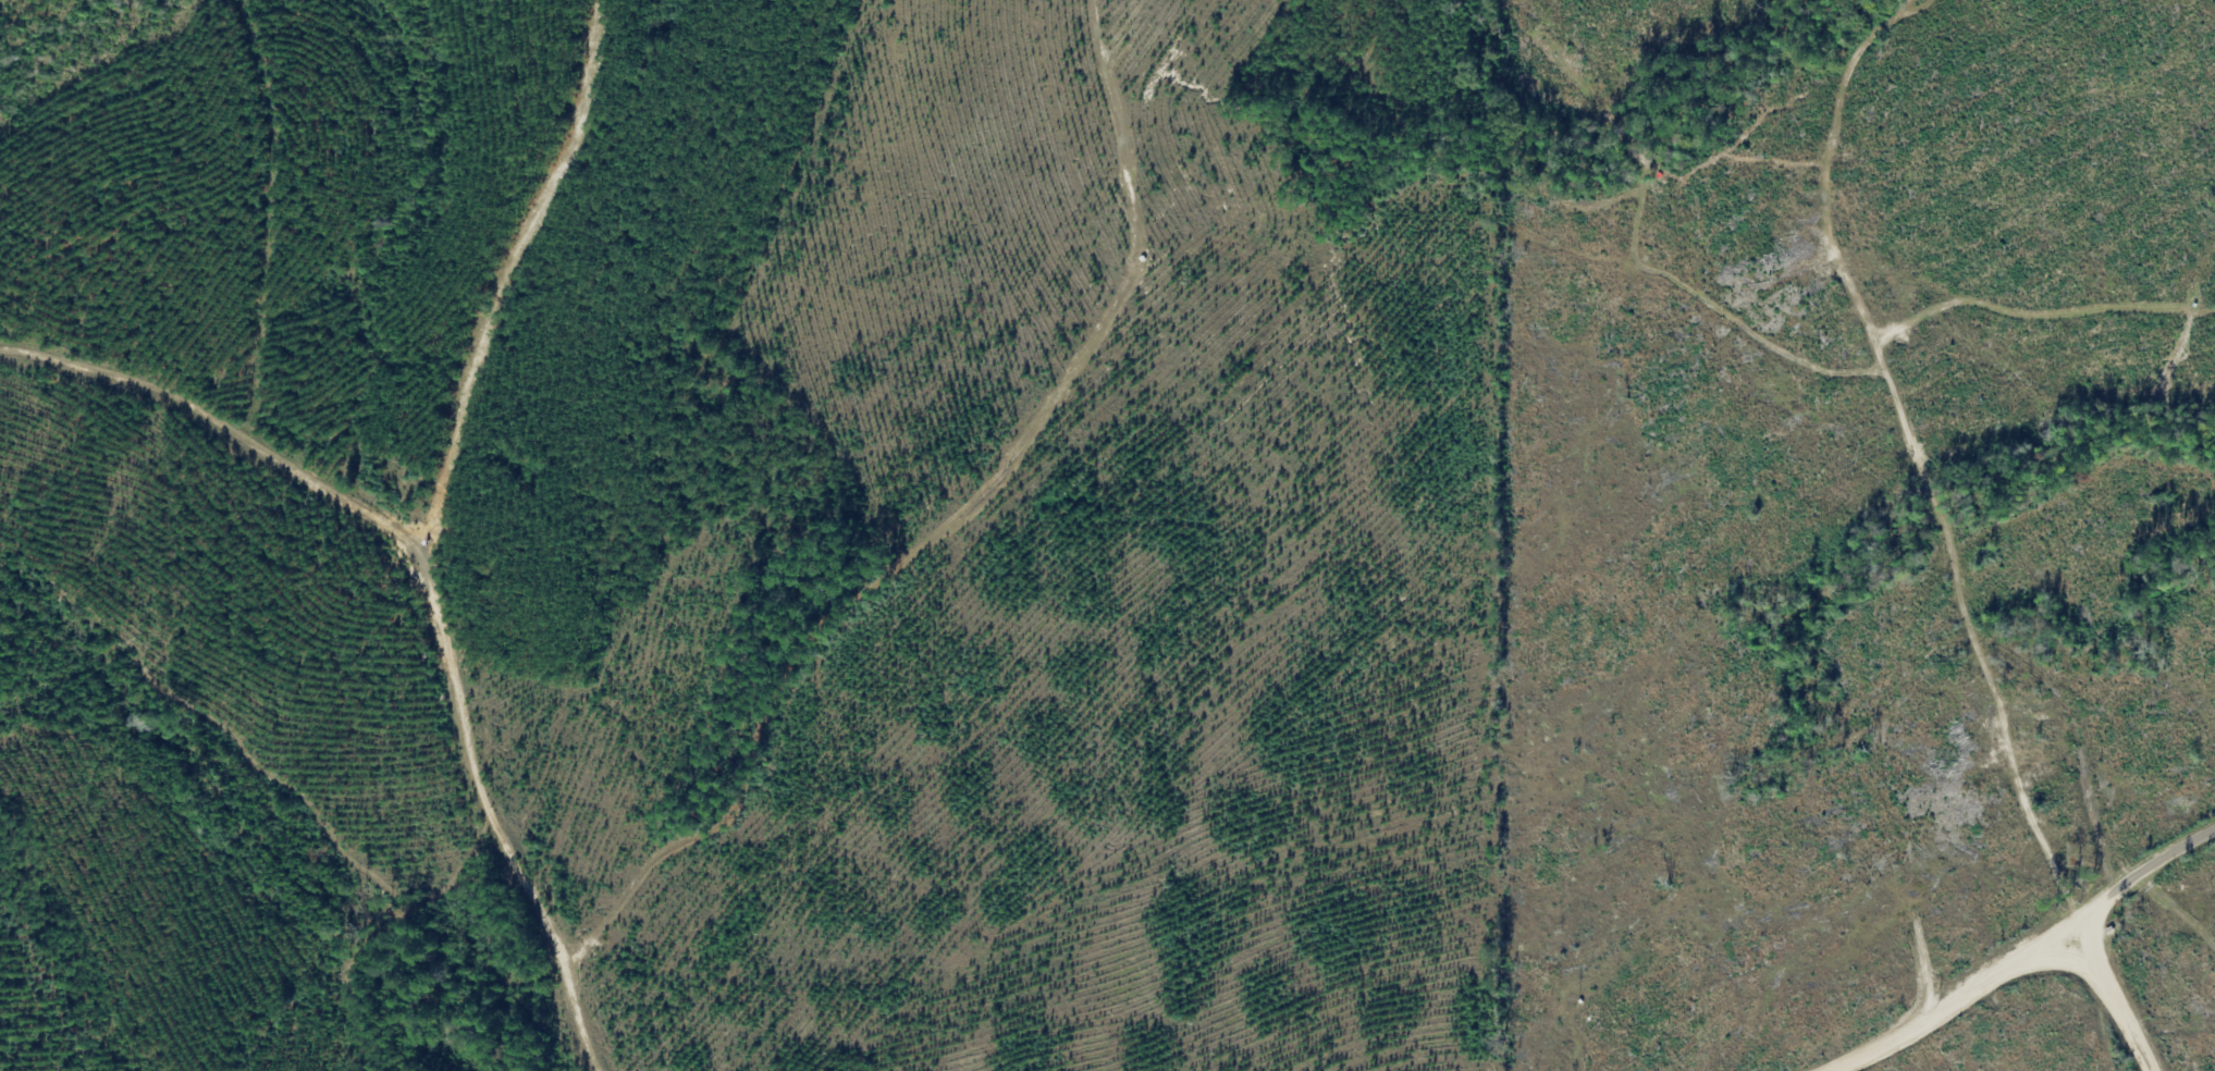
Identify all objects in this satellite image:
road: (1622, 70)
road: (1850, 456)
road: (340, 563)
road: (733, 582)
road: (1981, 950)
road: (2058, 998)

